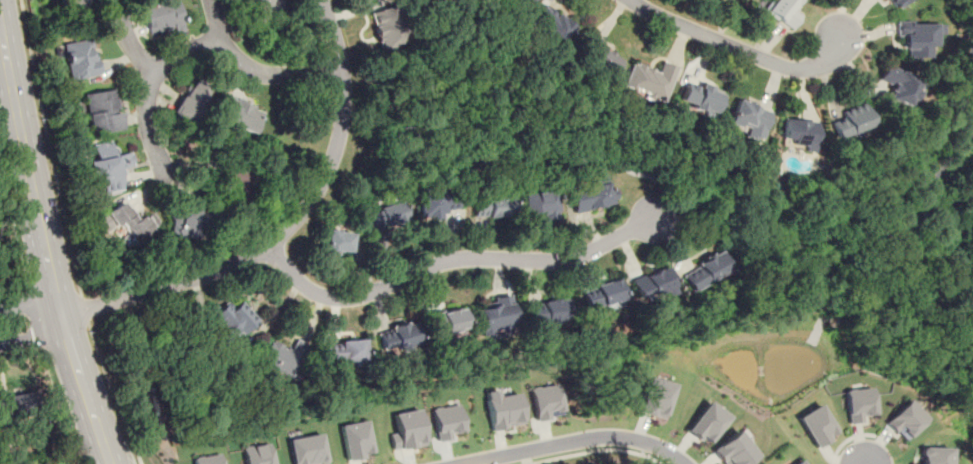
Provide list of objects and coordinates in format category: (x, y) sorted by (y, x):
building: (701, 1)
building: (523, 2)
building: (894, 3)
building: (257, 4)
building: (79, 6)
building: (782, 10)
building: (162, 17)
road: (214, 19)
building: (553, 23)
building: (388, 26)
building: (918, 36)
road: (134, 47)
road: (736, 48)
building: (599, 57)
building: (81, 59)
road: (273, 73)
building: (650, 79)
building: (899, 85)
road: (148, 87)
building: (705, 100)
building: (191, 106)
building: (103, 110)
building: (241, 114)
building: (749, 117)
building: (858, 123)
building: (805, 136)
road: (50, 147)
building: (110, 166)
road: (710, 172)
building: (231, 184)
building: (589, 196)
building: (538, 205)
building: (437, 206)
building: (491, 206)
building: (385, 217)
building: (190, 219)
building: (128, 224)
road: (287, 229)
road: (43, 238)
road: (15, 240)
building: (337, 242)
road: (458, 258)
building: (705, 271)
building: (653, 284)
building: (602, 295)
road: (30, 305)
road: (85, 309)
building: (546, 311)
building: (495, 315)
building: (229, 321)
building: (447, 321)
road: (33, 335)
building: (397, 338)
building: (345, 351)
building: (285, 357)
road: (113, 395)
building: (654, 397)
building: (545, 402)
building: (856, 404)
building: (17, 406)
building: (502, 410)
building: (904, 420)
building: (446, 421)
building: (705, 423)
building: (815, 425)
building: (407, 430)
building: (355, 440)
road: (575, 440)
road: (845, 440)
building: (307, 450)
road: (596, 450)
building: (733, 450)
building: (257, 454)
building: (207, 459)

